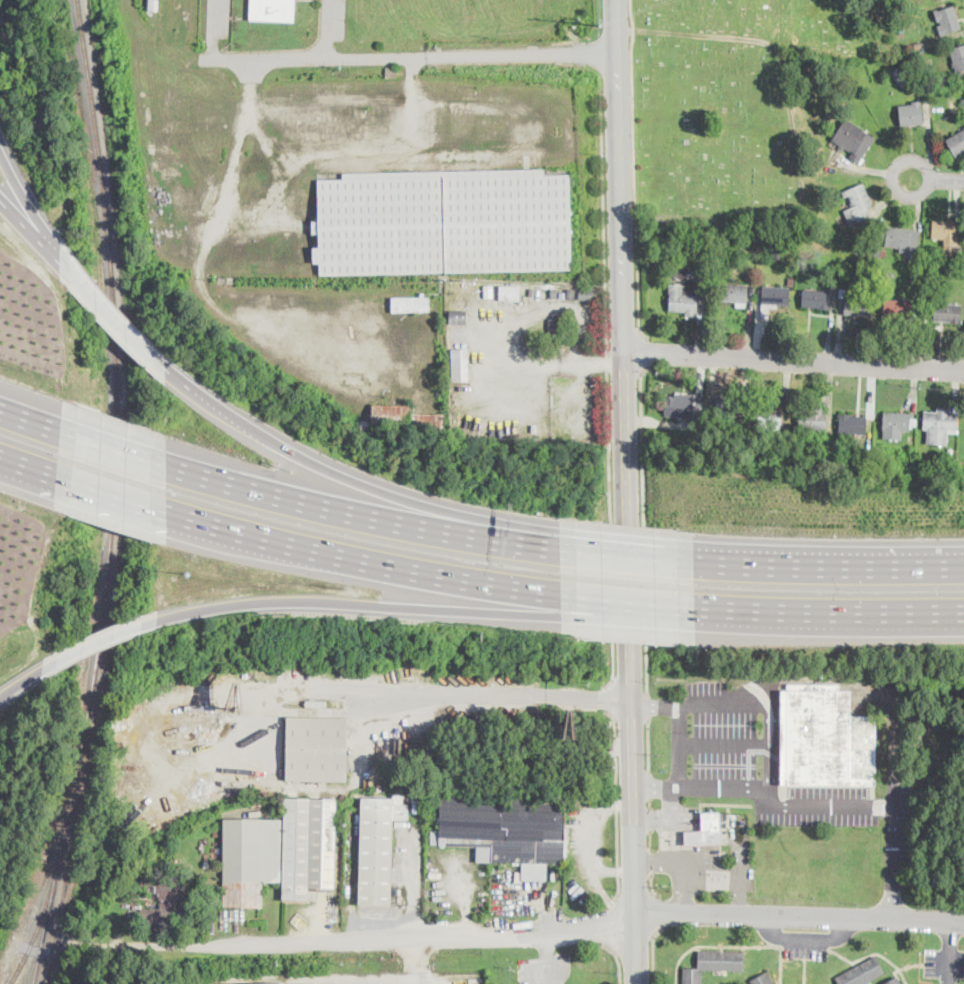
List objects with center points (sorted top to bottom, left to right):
building: (152, 5)
building: (273, 10)
building: (944, 20)
power tower: (601, 27)
road: (214, 30)
road: (327, 30)
building: (918, 44)
road: (413, 58)
building: (958, 58)
building: (392, 72)
building: (902, 74)
building: (963, 85)
road: (616, 99)
park: (729, 114)
building: (911, 114)
building: (829, 116)
building: (854, 140)
building: (956, 142)
road: (633, 170)
road: (893, 173)
road: (947, 180)
building: (858, 204)
road: (34, 213)
building: (444, 223)
building: (947, 235)
building: (903, 238)
road: (35, 239)
building: (884, 252)
building: (743, 254)
building: (778, 254)
building: (875, 255)
building: (676, 260)
building: (679, 273)
building: (888, 273)
building: (859, 275)
building: (792, 281)
building: (489, 292)
building: (532, 292)
building: (510, 293)
building: (842, 293)
building: (555, 294)
building: (572, 294)
building: (589, 294)
building: (562, 295)
building: (734, 295)
building: (774, 298)
building: (684, 299)
building: (816, 300)
building: (411, 303)
building: (859, 307)
building: (898, 309)
building: (948, 313)
building: (458, 317)
road: (117, 323)
building: (554, 328)
road: (644, 351)
road: (625, 352)
road: (795, 361)
road: (562, 362)
building: (461, 364)
road: (609, 395)
building: (685, 409)
building: (729, 409)
building: (769, 419)
building: (403, 420)
building: (812, 420)
road: (29, 421)
building: (720, 421)
building: (852, 424)
building: (897, 424)
building: (939, 426)
building: (913, 439)
road: (114, 450)
building: (951, 451)
road: (28, 466)
road: (340, 470)
railway: (114, 494)
road: (112, 495)
road: (348, 511)
road: (644, 525)
road: (545, 549)
road: (627, 556)
road: (365, 561)
road: (827, 567)
street lamp: (701, 585)
street lamp: (856, 592)
road: (359, 603)
road: (631, 613)
road: (831, 619)
road: (108, 638)
road: (29, 676)
road: (875, 691)
road: (459, 695)
road: (610, 702)
road: (737, 703)
road: (647, 704)
road: (654, 704)
building: (825, 739)
road: (770, 740)
road: (725, 742)
road: (648, 743)
road: (630, 744)
road: (680, 744)
building: (316, 749)
road: (648, 782)
road: (656, 785)
road: (672, 800)
road: (633, 801)
road: (649, 802)
road: (781, 805)
road: (618, 808)
road: (649, 818)
road: (652, 819)
road: (677, 819)
building: (505, 827)
building: (706, 832)
road: (649, 838)
road: (664, 838)
road: (588, 840)
road: (892, 846)
building: (378, 847)
building: (279, 853)
building: (725, 855)
road: (649, 859)
road: (686, 859)
road: (635, 866)
road: (650, 885)
road: (413, 888)
building: (163, 902)
road: (655, 912)
railway: (41, 915)
road: (800, 915)
road: (614, 927)
road: (378, 940)
road: (806, 940)
road: (637, 948)
road: (950, 952)
road: (652, 953)
road: (545, 956)
road: (420, 960)
road: (619, 960)
building: (714, 964)
parking lot: (543, 969)
building: (862, 973)
building: (762, 979)
building: (894, 981)
building: (270, 983)

